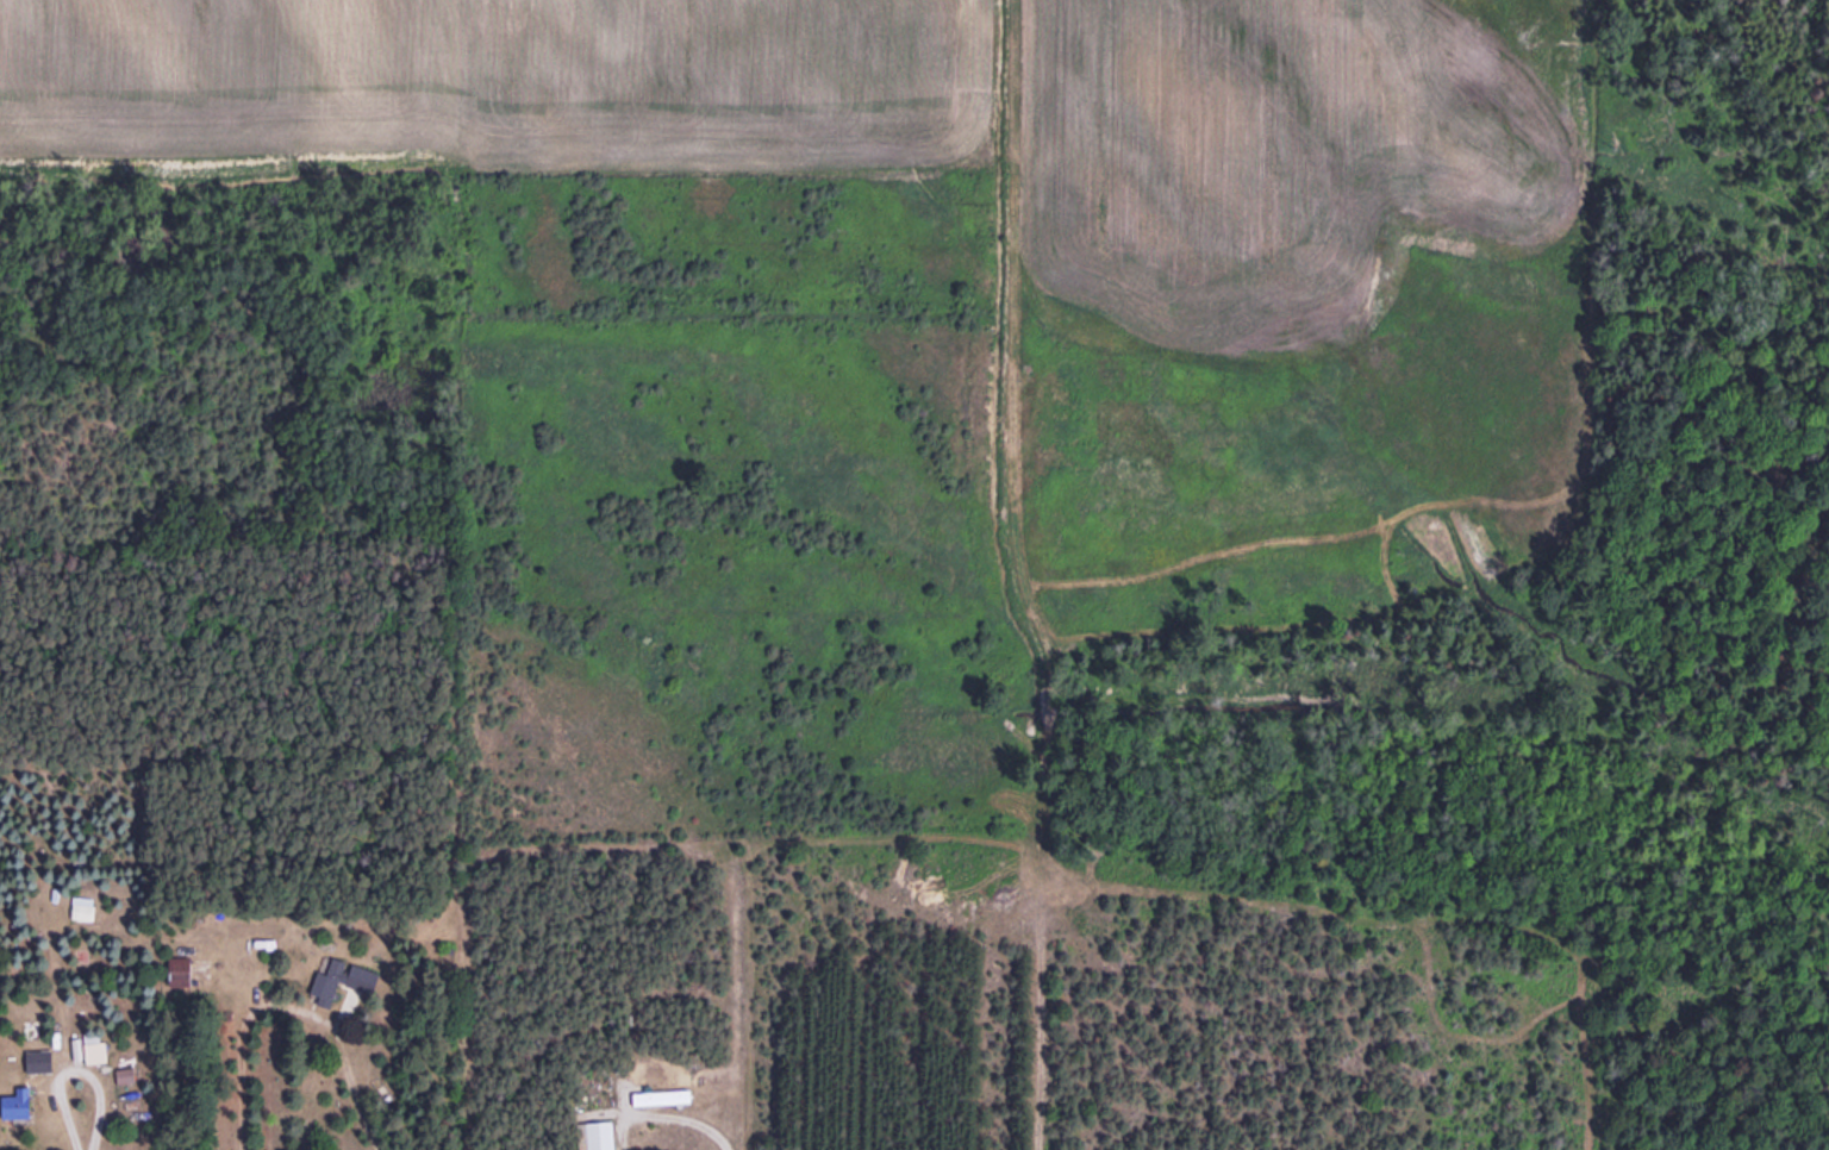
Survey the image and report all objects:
building: (186, 971)
building: (329, 979)
building: (364, 980)
building: (98, 1052)
building: (40, 1061)
building: (662, 1096)
building: (19, 1104)
building: (601, 1136)

